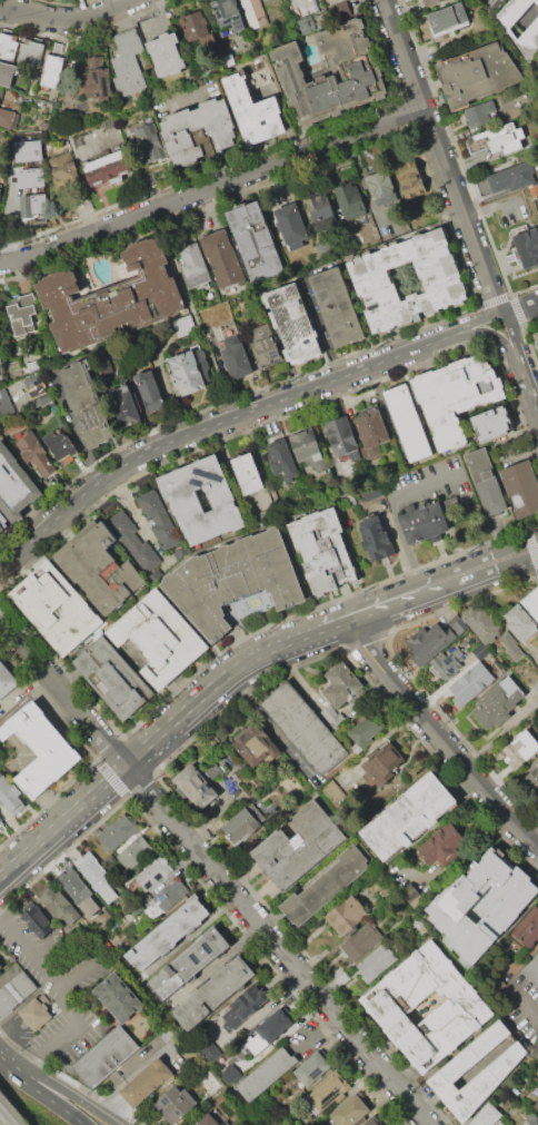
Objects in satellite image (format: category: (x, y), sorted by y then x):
building: (51, 0)
building: (54, 0)
building: (293, 0)
building: (428, 1)
road: (66, 3)
building: (339, 8)
road: (23, 11)
building: (253, 12)
building: (228, 13)
road: (67, 17)
building: (448, 18)
road: (163, 21)
building: (306, 24)
building: (522, 24)
building: (196, 26)
road: (83, 33)
building: (8, 43)
building: (31, 53)
building: (167, 53)
road: (179, 57)
building: (537, 62)
building: (128, 65)
building: (52, 70)
building: (360, 70)
building: (8, 73)
building: (478, 75)
building: (97, 78)
road: (183, 95)
building: (252, 111)
building: (481, 112)
building: (8, 117)
building: (43, 125)
building: (199, 132)
building: (497, 139)
building: (149, 144)
building: (27, 149)
road: (442, 156)
building: (104, 160)
building: (62, 164)
building: (109, 171)
building: (511, 178)
building: (147, 179)
building: (410, 179)
building: (484, 186)
building: (0, 187)
building: (381, 187)
road: (213, 188)
building: (30, 191)
road: (365, 191)
building: (350, 200)
road: (489, 203)
building: (82, 206)
building: (321, 211)
building: (291, 226)
building: (256, 243)
building: (528, 247)
building: (222, 259)
building: (192, 265)
building: (441, 280)
building: (111, 299)
building: (337, 306)
road: (521, 310)
building: (21, 313)
road: (196, 315)
road: (482, 318)
building: (292, 323)
building: (186, 325)
building: (228, 328)
road: (511, 335)
building: (230, 339)
road: (496, 339)
building: (537, 343)
building: (265, 345)
building: (101, 361)
building: (202, 361)
building: (237, 361)
building: (13, 367)
building: (186, 373)
road: (524, 373)
building: (149, 389)
building: (38, 391)
building: (455, 398)
road: (534, 398)
building: (4, 404)
building: (87, 404)
building: (126, 405)
building: (409, 424)
building: (491, 424)
road: (218, 427)
building: (371, 432)
building: (342, 437)
building: (60, 444)
building: (308, 450)
building: (34, 454)
building: (282, 461)
building: (248, 473)
building: (486, 482)
building: (16, 485)
building: (521, 487)
building: (201, 501)
road: (393, 510)
road: (138, 519)
building: (159, 520)
road: (283, 521)
building: (3, 523)
building: (424, 523)
building: (376, 536)
building: (132, 537)
building: (323, 551)
road: (485, 555)
building: (101, 570)
road: (488, 572)
building: (235, 580)
road: (390, 598)
fountain: (255, 602)
building: (531, 602)
building: (57, 608)
building: (481, 622)
building: (519, 622)
building: (457, 623)
building: (158, 639)
building: (428, 643)
building: (510, 647)
building: (456, 662)
building: (114, 677)
building: (6, 680)
building: (341, 683)
building: (470, 684)
building: (535, 685)
building: (496, 702)
building: (332, 716)
road: (160, 726)
building: (303, 727)
building: (368, 727)
road: (440, 728)
building: (253, 746)
building: (40, 748)
building: (519, 749)
building: (211, 763)
building: (381, 764)
building: (532, 778)
building: (196, 786)
building: (330, 792)
building: (10, 793)
road: (218, 808)
building: (407, 817)
building: (247, 820)
building: (1, 822)
building: (118, 831)
building: (298, 845)
building: (444, 845)
building: (103, 847)
building: (136, 853)
road: (216, 870)
building: (93, 871)
building: (153, 874)
building: (325, 888)
building: (78, 891)
building: (411, 895)
building: (166, 898)
building: (59, 904)
building: (452, 904)
building: (347, 915)
building: (37, 919)
building: (526, 928)
building: (167, 934)
road: (51, 941)
building: (360, 943)
building: (375, 963)
building: (188, 965)
building: (0, 967)
road: (78, 969)
building: (532, 971)
building: (337, 974)
building: (14, 991)
parking lot: (57, 993)
building: (213, 993)
building: (118, 998)
road: (71, 999)
road: (519, 1003)
building: (243, 1006)
building: (389, 1006)
building: (36, 1014)
building: (275, 1024)
road: (316, 1030)
building: (257, 1044)
building: (209, 1053)
building: (106, 1056)
road: (11, 1063)
building: (457, 1066)
building: (311, 1068)
road: (134, 1069)
building: (267, 1073)
building: (229, 1074)
building: (146, 1083)
building: (216, 1086)
building: (326, 1092)
road: (70, 1095)
road: (50, 1099)
building: (176, 1104)
building: (536, 1105)
building: (350, 1111)
building: (486, 1115)
building: (529, 1119)
building: (207, 1121)
building: (371, 1121)
building: (496, 1123)

